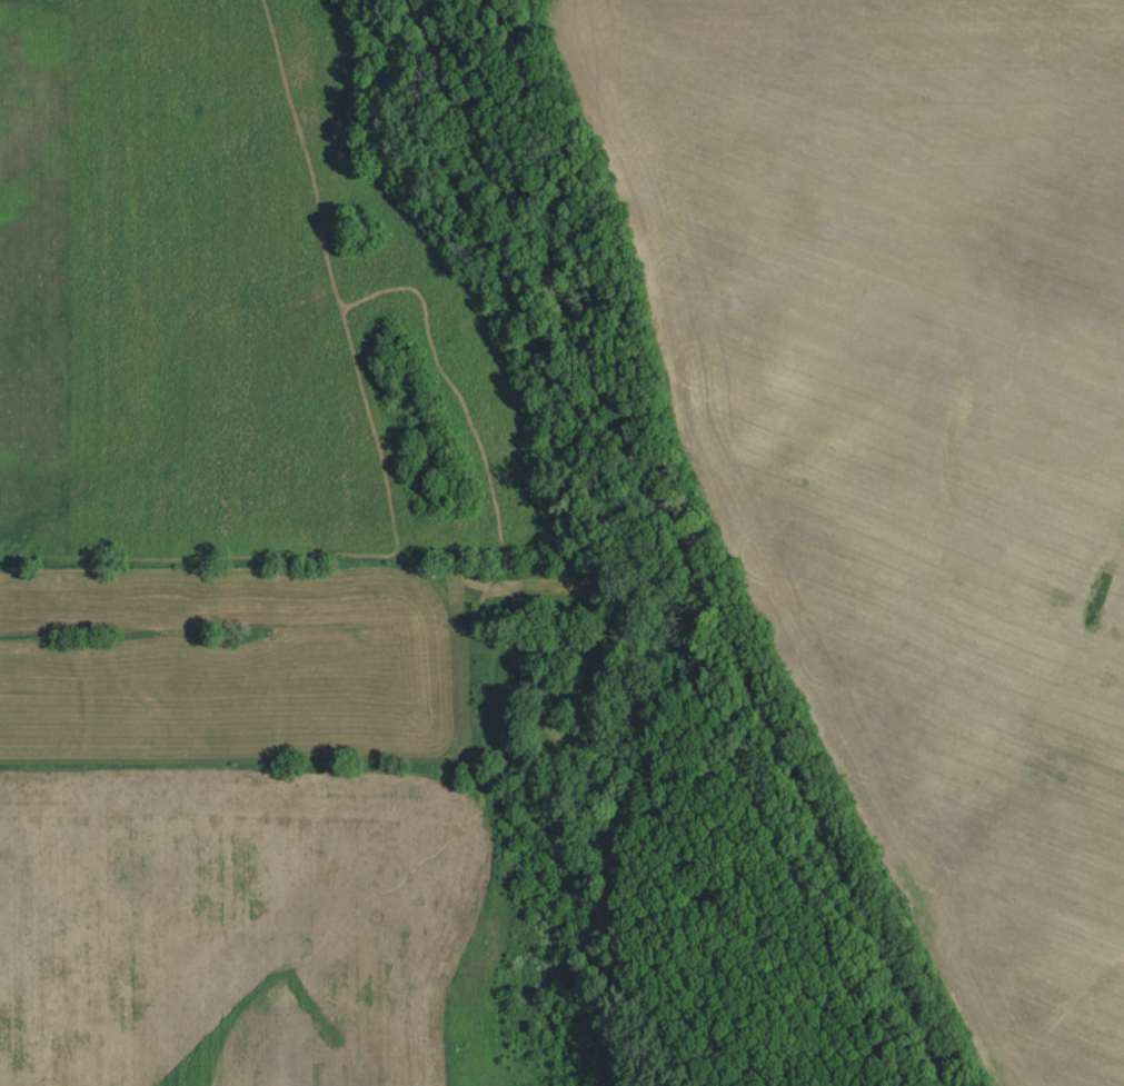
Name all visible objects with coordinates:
road: (679, 542)

